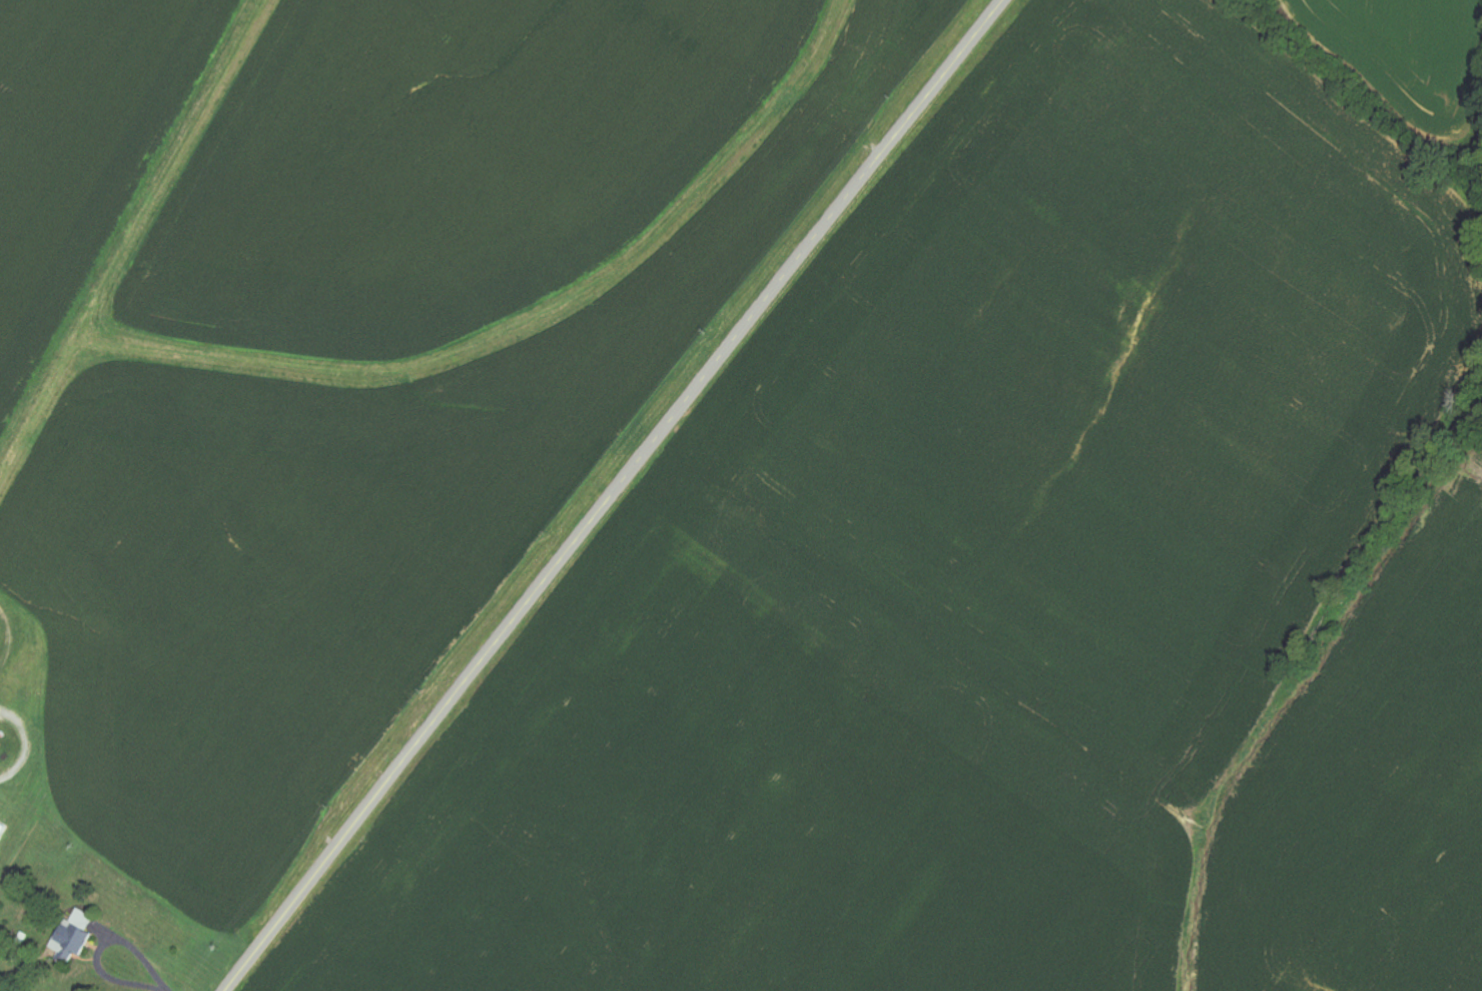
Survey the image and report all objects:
road: (612, 494)
building: (1, 830)
building: (72, 937)

